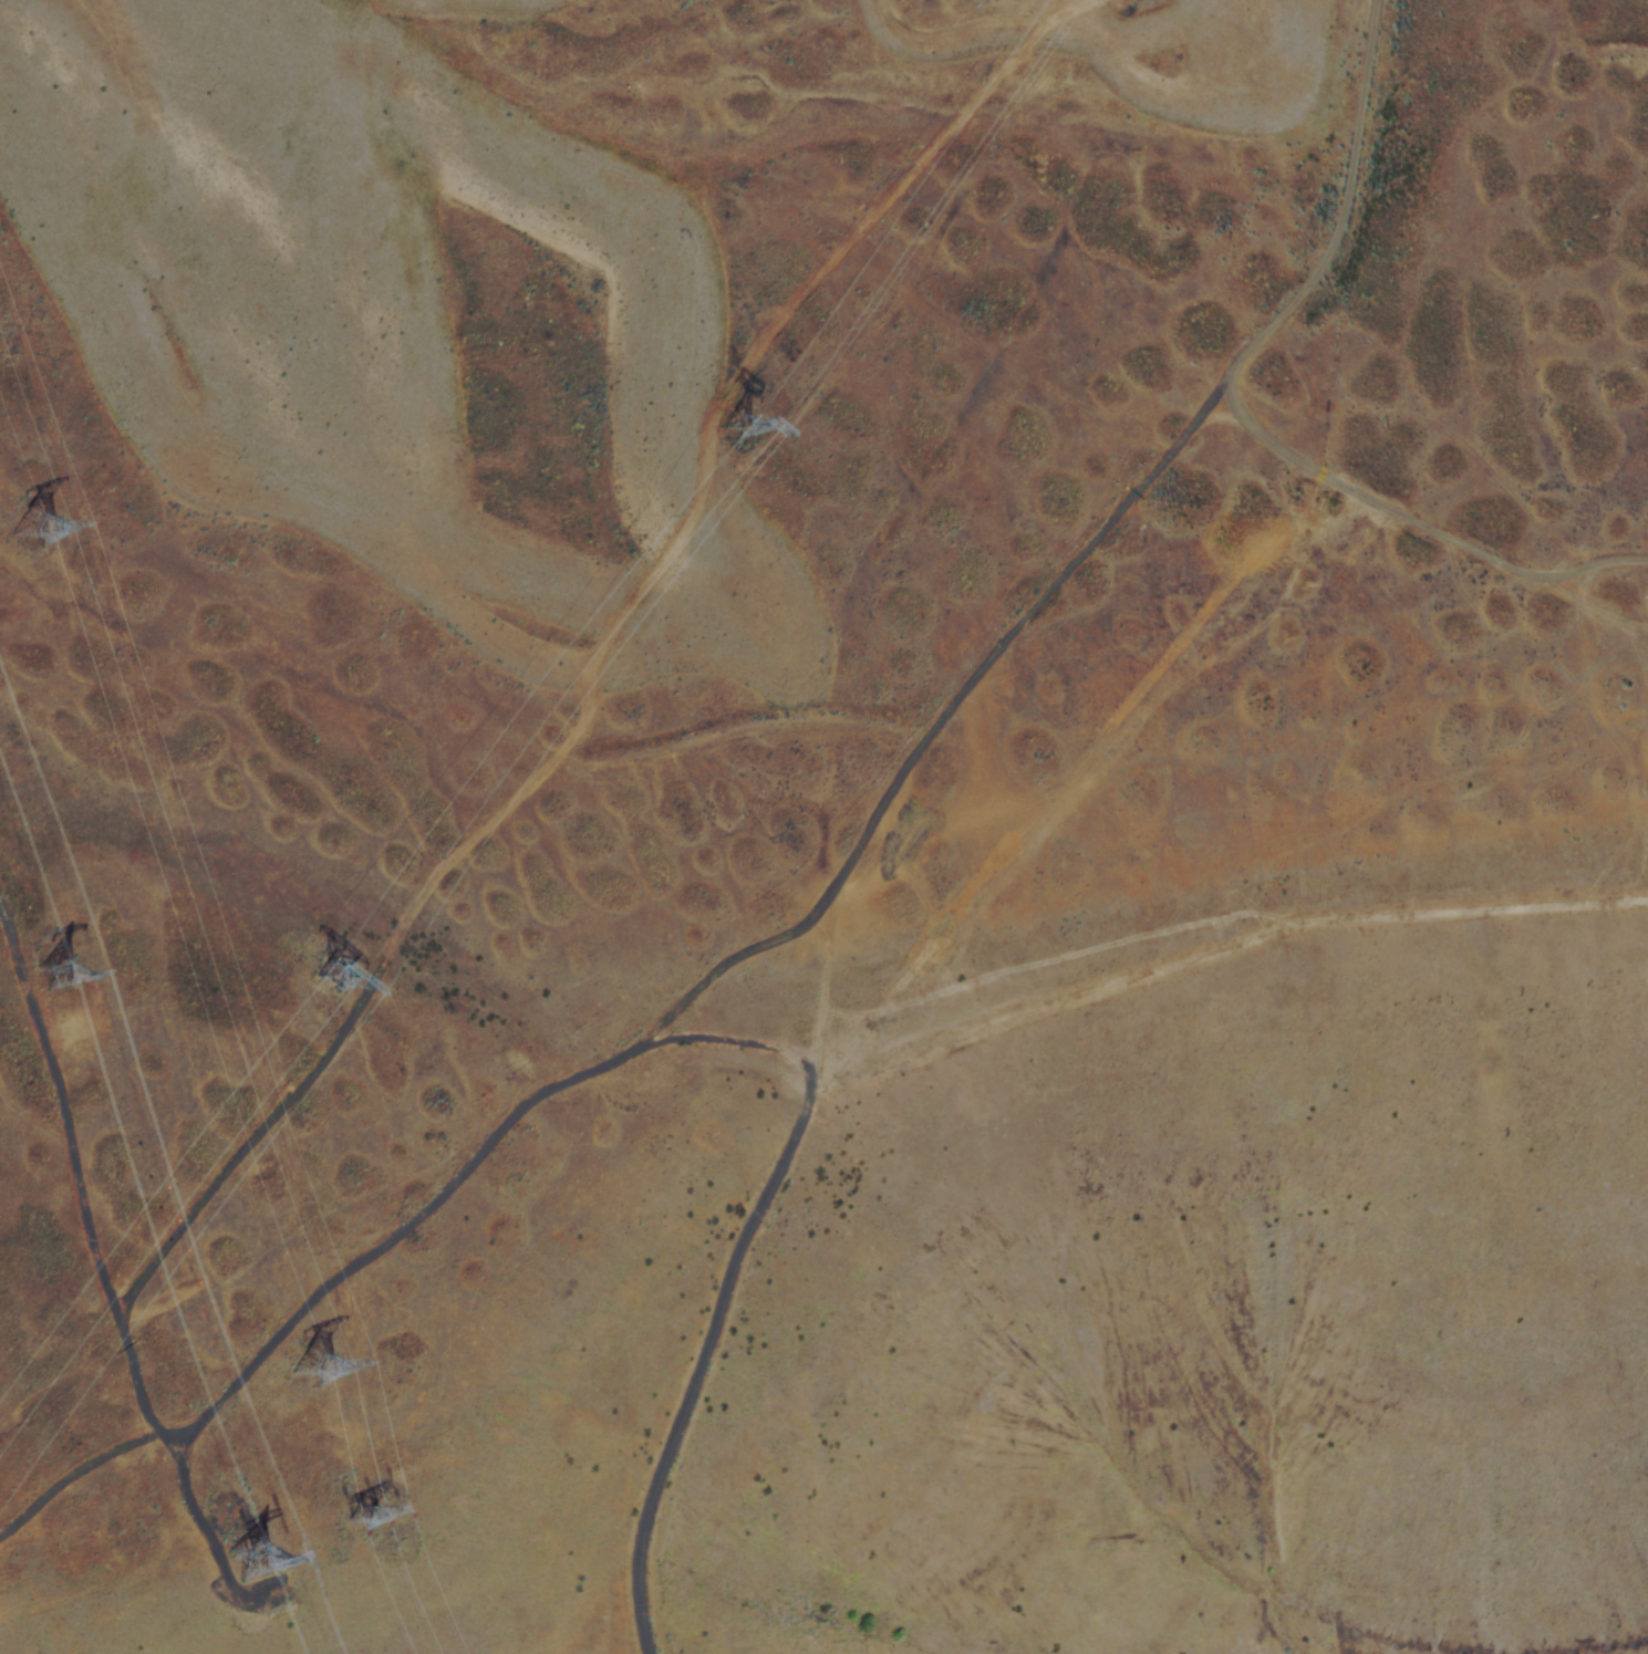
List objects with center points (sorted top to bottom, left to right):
power tower: (773, 371)
road: (1240, 412)
power tower: (40, 530)
power tower: (53, 965)
power tower: (342, 966)
road: (478, 1151)
power tower: (299, 1351)
power tower: (361, 1504)
power tower: (243, 1543)

